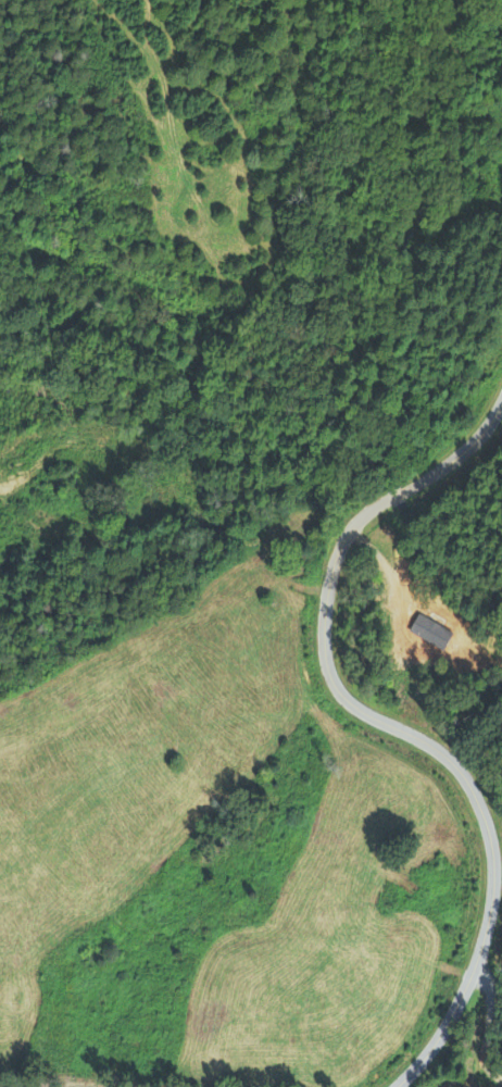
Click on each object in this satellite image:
road: (460, 453)
road: (397, 496)
building: (448, 621)
road: (454, 764)
road: (487, 1022)

